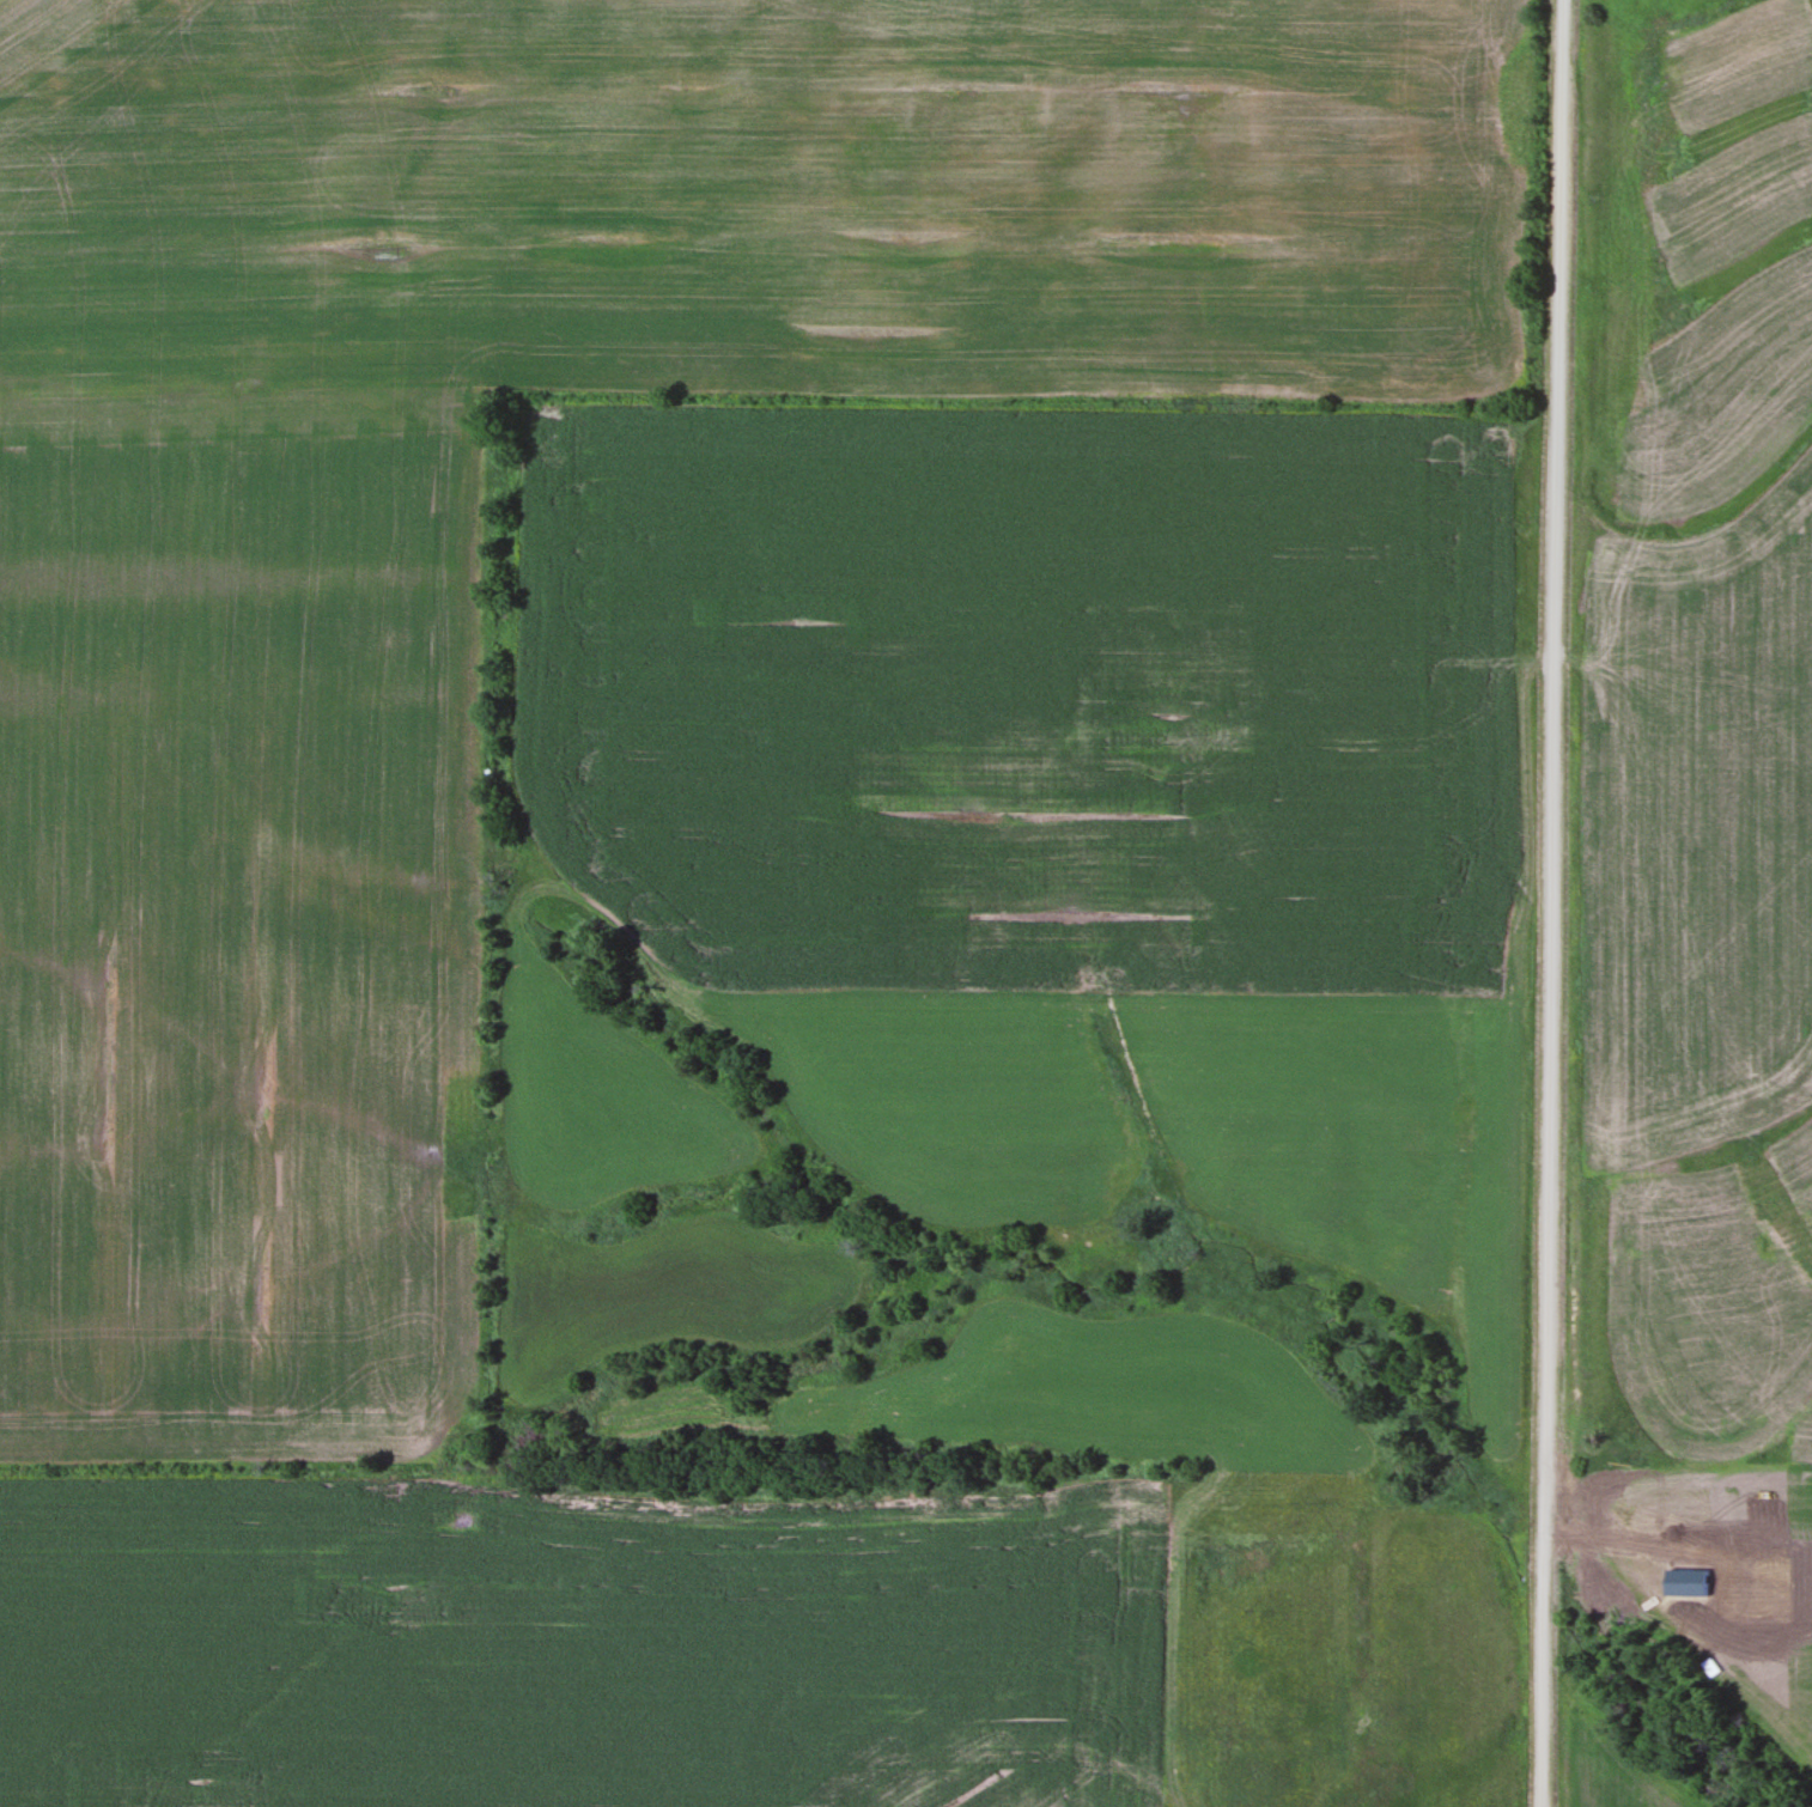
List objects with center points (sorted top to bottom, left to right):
road: (1550, 902)

